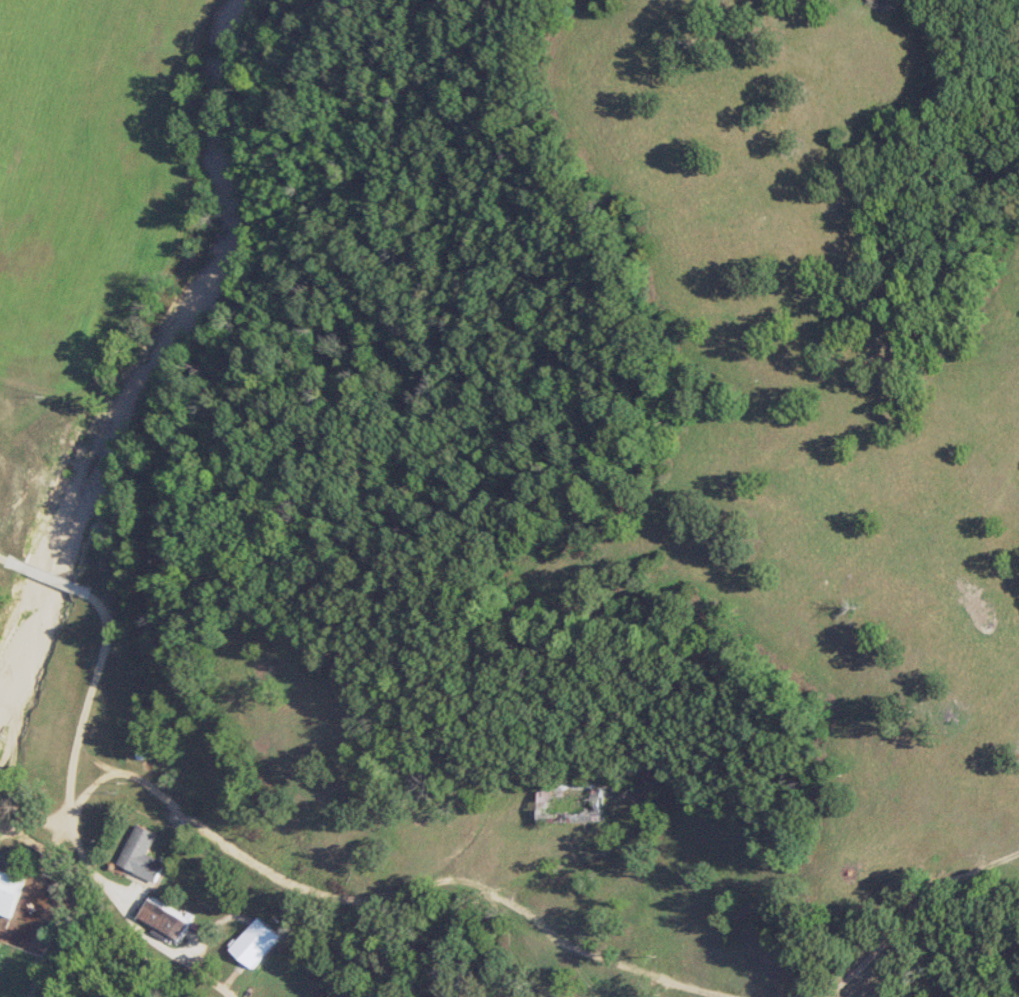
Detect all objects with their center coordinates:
road: (72, 578)
building: (566, 805)
building: (137, 853)
building: (8, 890)
building: (161, 918)
building: (251, 940)
building: (337, 995)

